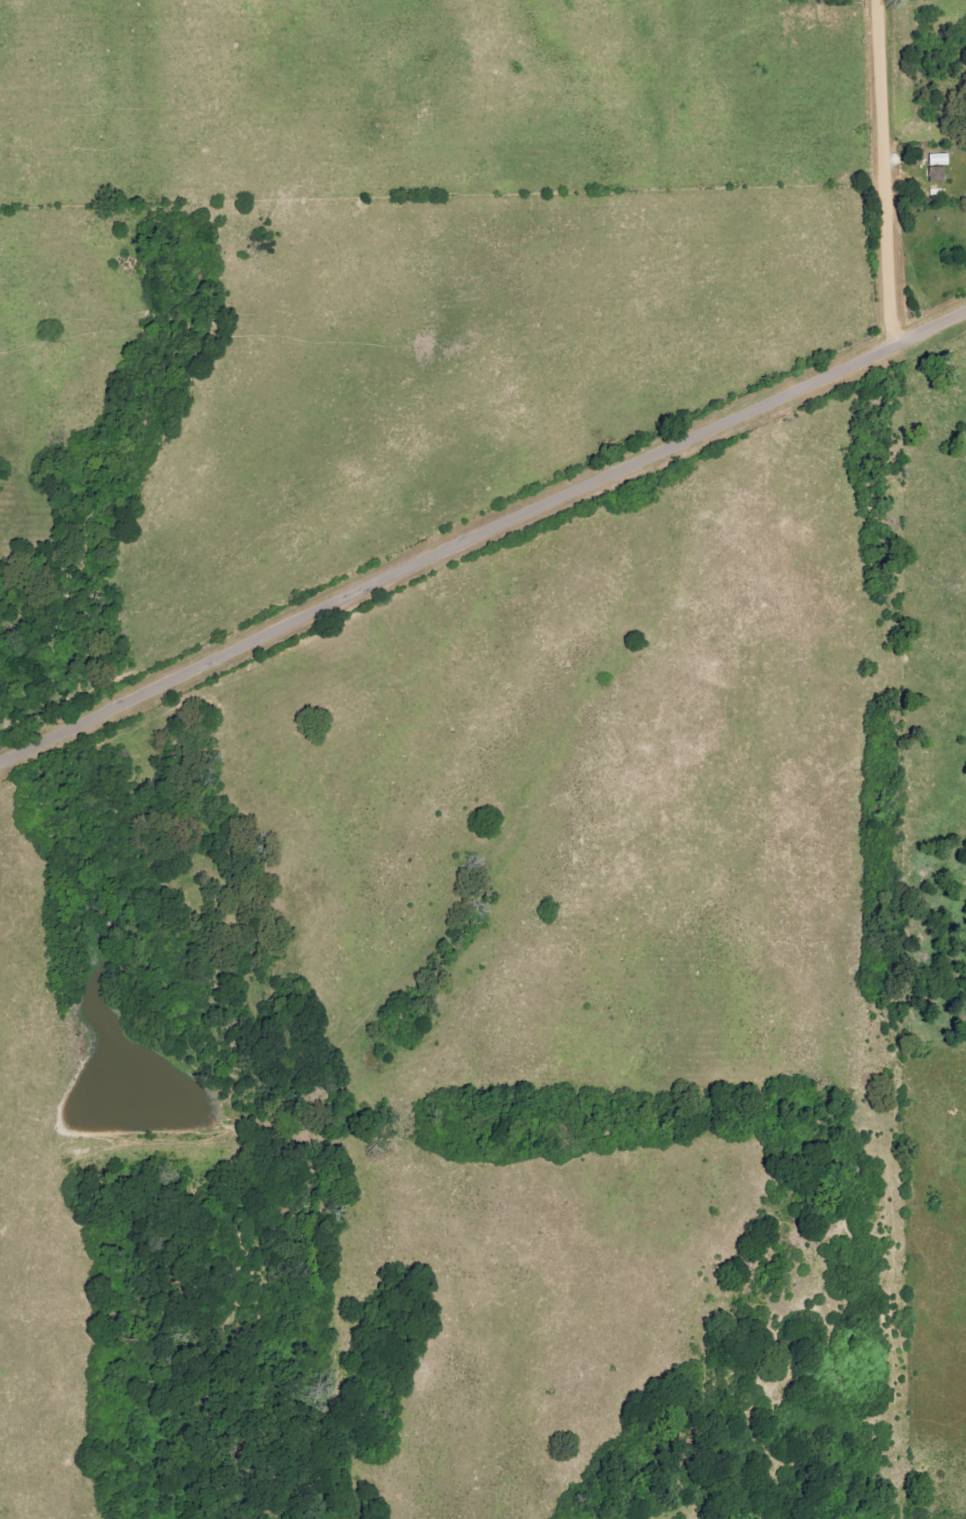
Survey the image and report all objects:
building: (940, 167)
road: (883, 173)
road: (482, 545)

